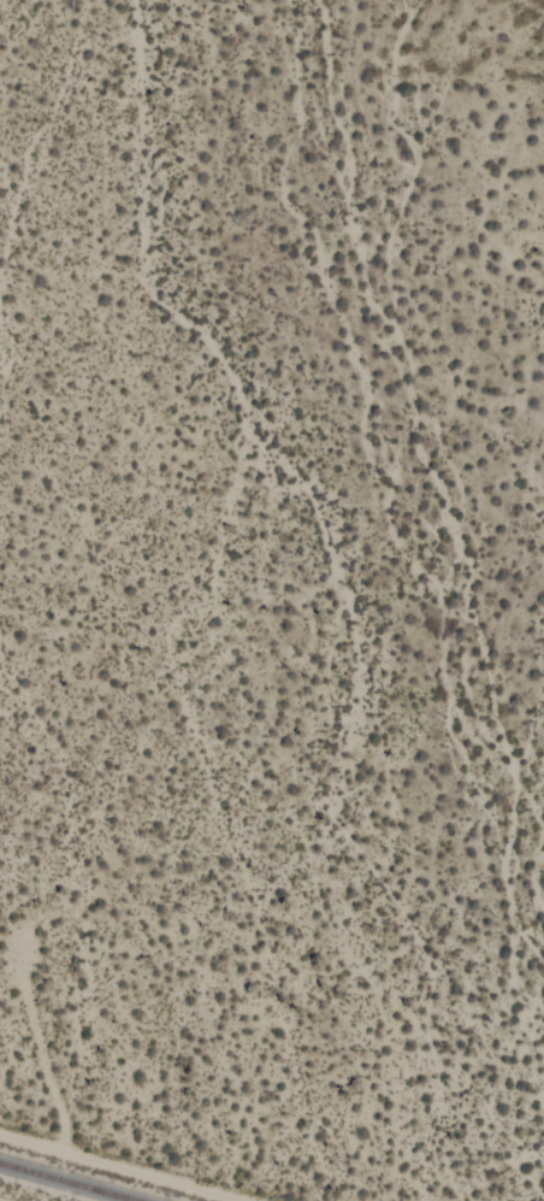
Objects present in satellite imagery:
railway: (63, 1183)

